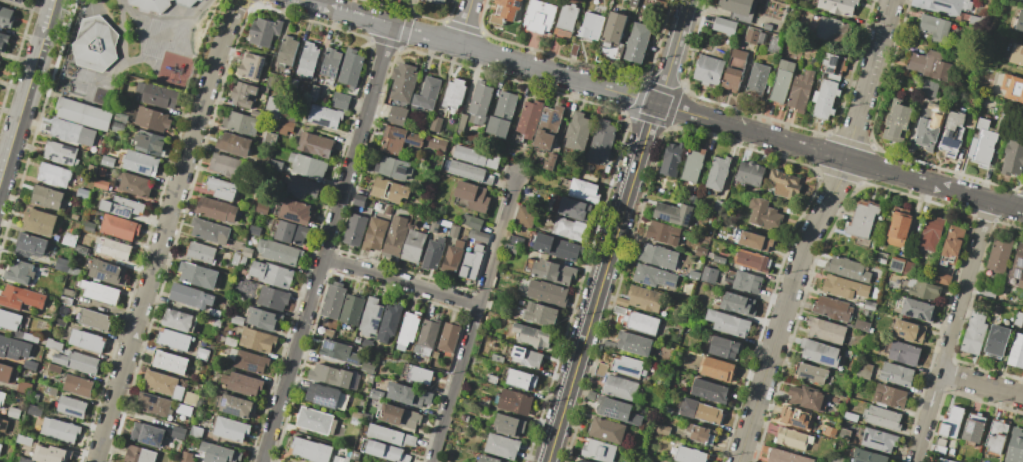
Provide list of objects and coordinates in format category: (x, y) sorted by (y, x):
building: (198, 0)
building: (441, 0)
building: (16, 1)
building: (185, 2)
building: (633, 3)
rooftop solar panel: (942, 4)
building: (150, 5)
building: (737, 6)
building: (838, 6)
building: (947, 7)
building: (505, 11)
building: (539, 16)
building: (6, 17)
building: (566, 20)
building: (976, 21)
road: (463, 22)
building: (1020, 22)
building: (724, 26)
building: (591, 27)
building: (829, 29)
building: (933, 29)
building: (265, 32)
building: (751, 36)
building: (613, 37)
building: (762, 39)
building: (3, 40)
building: (637, 42)
building: (95, 44)
building: (775, 45)
building: (573, 49)
building: (288, 51)
road: (672, 52)
building: (1016, 55)
rooftop solar panel: (833, 59)
building: (308, 60)
building: (0, 61)
building: (330, 63)
building: (251, 65)
building: (834, 65)
building: (929, 65)
building: (351, 67)
building: (734, 69)
building: (708, 70)
rooftop solar panel: (830, 70)
rooftop solar panel: (261, 71)
rooftop solar panel: (253, 73)
building: (271, 80)
building: (757, 80)
building: (403, 82)
building: (782, 82)
road: (26, 88)
building: (930, 88)
building: (1013, 88)
building: (264, 90)
building: (801, 90)
building: (313, 92)
building: (243, 94)
building: (427, 94)
building: (454, 94)
building: (158, 96)
building: (825, 99)
building: (340, 101)
building: (480, 103)
road: (662, 106)
building: (274, 107)
building: (256, 113)
building: (83, 114)
building: (502, 114)
building: (324, 116)
building: (397, 116)
building: (289, 117)
building: (120, 118)
building: (529, 118)
rooftop solar panel: (543, 119)
rooftop solar panel: (555, 119)
building: (152, 120)
building: (970, 120)
building: (240, 123)
building: (897, 123)
building: (436, 124)
building: (461, 124)
building: (286, 127)
building: (548, 127)
building: (929, 127)
building: (118, 128)
building: (577, 132)
building: (72, 133)
building: (952, 134)
building: (270, 138)
building: (398, 140)
building: (601, 142)
building: (150, 143)
building: (234, 144)
building: (437, 144)
building: (315, 145)
building: (982, 145)
building: (61, 154)
building: (476, 157)
building: (1013, 158)
building: (672, 159)
building: (107, 161)
building: (420, 161)
building: (550, 162)
building: (140, 163)
building: (224, 165)
building: (692, 165)
building: (307, 166)
building: (394, 168)
rooftop solar panel: (142, 169)
building: (91, 170)
building: (101, 172)
building: (470, 172)
building: (718, 172)
building: (750, 173)
building: (54, 175)
building: (785, 183)
building: (101, 185)
building: (135, 185)
road: (515, 185)
building: (304, 188)
building: (221, 189)
building: (581, 190)
building: (392, 191)
building: (83, 194)
building: (48, 197)
building: (473, 197)
building: (359, 200)
building: (130, 205)
building: (115, 209)
building: (262, 209)
building: (575, 209)
building: (216, 210)
building: (295, 212)
rooftop solar panel: (125, 213)
building: (673, 213)
building: (764, 213)
building: (525, 216)
building: (74, 217)
rooftop solar panel: (663, 218)
rooftop solar panel: (689, 218)
building: (862, 221)
building: (39, 222)
building: (471, 222)
building: (88, 226)
building: (434, 226)
building: (119, 227)
building: (899, 227)
building: (570, 228)
road: (163, 229)
road: (812, 229)
building: (209, 230)
building: (354, 230)
building: (255, 231)
building: (285, 231)
building: (454, 231)
building: (664, 233)
building: (931, 234)
building: (300, 235)
building: (375, 235)
building: (477, 235)
building: (395, 237)
building: (69, 240)
building: (753, 240)
building: (517, 241)
road: (326, 244)
building: (30, 245)
building: (413, 246)
building: (952, 246)
building: (230, 247)
building: (556, 247)
building: (112, 248)
building: (510, 249)
building: (81, 250)
building: (200, 252)
building: (246, 252)
building: (277, 252)
building: (700, 252)
building: (431, 253)
building: (535, 255)
building: (658, 256)
building: (999, 256)
building: (451, 257)
building: (880, 258)
building: (235, 260)
building: (242, 260)
building: (719, 260)
building: (753, 261)
building: (470, 263)
building: (61, 264)
rooftop solar panel: (1020, 264)
building: (896, 265)
building: (848, 269)
building: (910, 269)
building: (943, 269)
rooftop solar panel: (112, 270)
building: (1017, 271)
building: (20, 272)
building: (74, 272)
building: (106, 272)
building: (553, 272)
building: (271, 274)
building: (198, 275)
building: (693, 275)
building: (708, 275)
rooftop solar panel: (1018, 276)
building: (654, 277)
rooftop solar panel: (101, 278)
building: (942, 278)
road: (400, 282)
road: (599, 282)
rooftop solar panel: (645, 282)
building: (747, 282)
rooftop solar panel: (668, 284)
building: (844, 287)
road: (964, 287)
building: (923, 291)
building: (100, 292)
building: (68, 293)
building: (523, 293)
building: (550, 293)
building: (875, 293)
building: (186, 295)
building: (20, 298)
building: (273, 298)
building: (645, 298)
building: (331, 299)
building: (66, 301)
building: (621, 301)
building: (521, 302)
building: (739, 304)
building: (869, 305)
building: (350, 309)
building: (834, 309)
building: (997, 309)
building: (918, 310)
rooftop solar panel: (380, 311)
building: (214, 313)
building: (540, 314)
building: (369, 315)
building: (264, 319)
building: (10, 320)
building: (94, 320)
building: (177, 320)
building: (237, 320)
building: (1019, 320)
building: (636, 321)
building: (24, 322)
building: (59, 322)
building: (387, 322)
building: (216, 323)
rooftop solar panel: (375, 323)
building: (729, 324)
building: (862, 325)
building: (406, 329)
road: (471, 329)
building: (825, 331)
building: (908, 331)
building: (319, 332)
building: (975, 332)
building: (328, 333)
building: (448, 335)
building: (425, 336)
building: (531, 336)
building: (26, 337)
building: (356, 339)
building: (87, 340)
building: (174, 340)
building: (258, 340)
building: (997, 341)
building: (230, 342)
building: (366, 343)
building: (634, 343)
building: (53, 344)
rooftop solar panel: (328, 345)
building: (724, 347)
building: (15, 352)
building: (338, 352)
building: (1017, 352)
building: (819, 353)
building: (904, 353)
building: (202, 354)
building: (233, 354)
building: (434, 354)
building: (523, 356)
building: (497, 358)
building: (77, 362)
building: (172, 362)
building: (251, 362)
building: (628, 367)
building: (367, 368)
building: (717, 369)
building: (601, 370)
rooftop solar panel: (627, 370)
building: (864, 371)
building: (811, 373)
building: (8, 374)
building: (421, 375)
rooftop solar panel: (807, 375)
building: (896, 375)
building: (332, 376)
building: (492, 379)
building: (522, 380)
building: (160, 383)
building: (75, 384)
building: (241, 384)
road: (981, 385)
building: (24, 388)
building: (620, 388)
building: (709, 391)
building: (177, 393)
building: (47, 394)
building: (376, 395)
building: (408, 395)
building: (591, 395)
building: (890, 396)
building: (326, 397)
building: (804, 397)
building: (2, 399)
building: (190, 399)
building: (515, 402)
rooftop solar panel: (325, 403)
building: (155, 405)
building: (646, 405)
building: (238, 406)
building: (72, 407)
building: (614, 408)
building: (34, 410)
rooftop solar panel: (74, 411)
building: (668, 411)
building: (700, 412)
building: (13, 413)
rooftop solar panel: (610, 414)
building: (356, 415)
building: (400, 417)
building: (796, 417)
building: (850, 417)
road: (926, 417)
building: (882, 418)
building: (635, 419)
building: (316, 421)
building: (353, 421)
building: (951, 422)
building: (3, 425)
rooftop solar panel: (798, 425)
building: (510, 426)
building: (230, 429)
building: (663, 429)
rooftop solar panel: (972, 429)
building: (973, 429)
building: (60, 430)
building: (607, 430)
building: (830, 431)
building: (196, 432)
building: (178, 433)
building: (697, 433)
building: (147, 435)
building: (389, 435)
building: (843, 435)
building: (997, 437)
building: (792, 438)
building: (24, 440)
building: (809, 440)
building: (878, 440)
rooftop solar panel: (146, 442)
rooftop solar panel: (155, 445)
building: (0, 446)
building: (502, 446)
building: (940, 447)
building: (1015, 447)
building: (310, 450)
building: (384, 451)
building: (596, 451)
building: (219, 453)
building: (139, 454)
building: (49, 455)
building: (354, 455)
building: (689, 455)
building: (868, 456)
building: (187, 457)
building: (786, 457)
building: (339, 459)
building: (489, 459)
building: (835, 459)
building: (24, 460)
building: (943, 460)
building: (582, 461)

